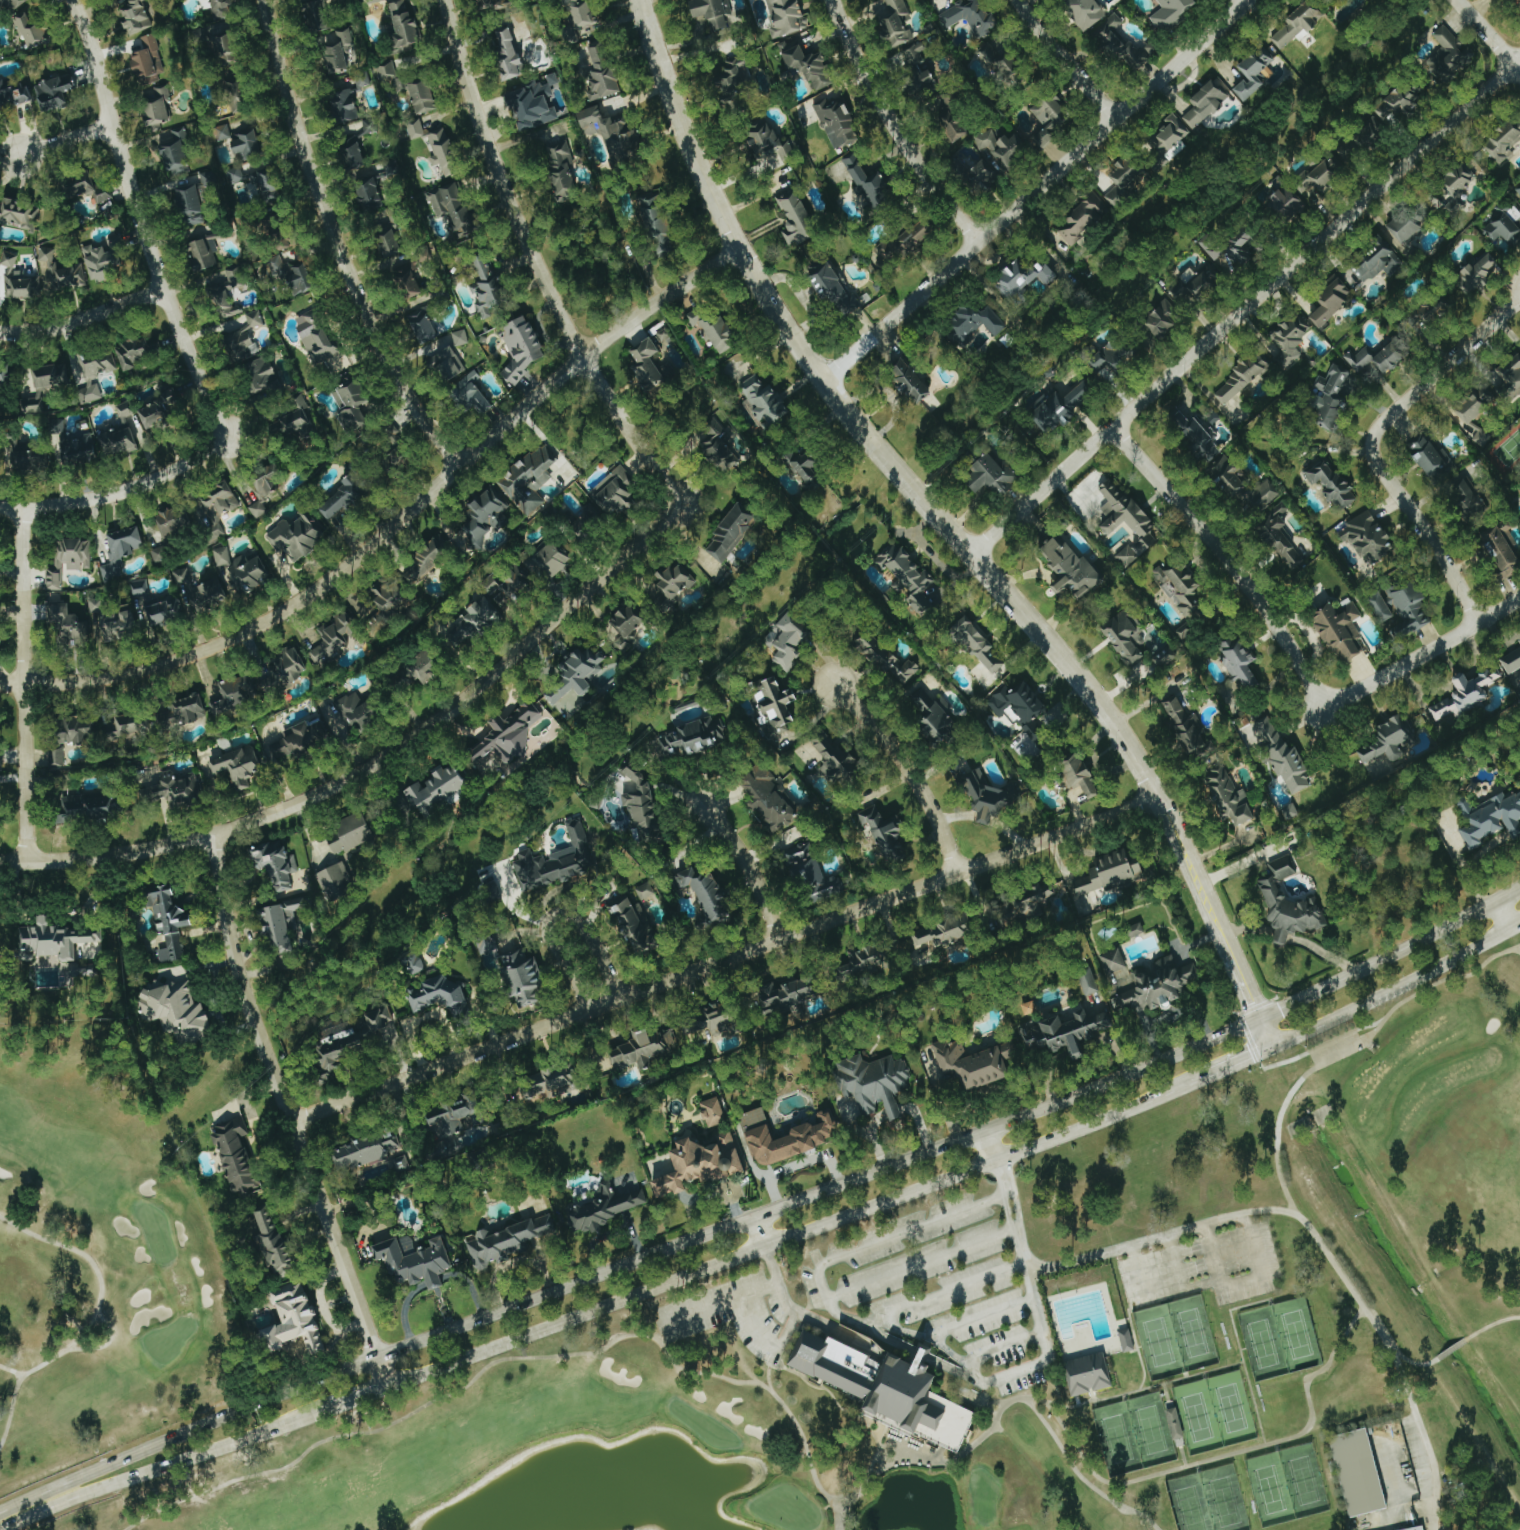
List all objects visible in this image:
road: (1240, 1)
building: (494, 3)
building: (1508, 3)
building: (218, 8)
building: (713, 12)
building: (1087, 12)
building: (582, 13)
building: (1173, 13)
building: (136, 16)
building: (318, 16)
building: (970, 16)
building: (786, 17)
building: (404, 23)
building: (895, 23)
building: (1297, 25)
road: (1492, 31)
building: (32, 33)
building: (1121, 43)
building: (790, 45)
building: (219, 48)
building: (340, 51)
building: (509, 53)
building: (1447, 55)
road: (1073, 56)
building: (149, 61)
building: (1002, 62)
building: (918, 69)
building: (603, 71)
building: (1256, 73)
building: (388, 77)
building: (733, 79)
building: (55, 92)
building: (236, 94)
building: (13, 96)
building: (423, 97)
building: (1208, 102)
building: (1400, 102)
building: (157, 104)
building: (534, 104)
building: (345, 106)
building: (837, 118)
building: (1049, 121)
building: (953, 123)
road: (900, 124)
building: (416, 129)
building: (224, 132)
building: (613, 133)
building: (1172, 137)
building: (1370, 137)
building: (1505, 140)
road: (64, 142)
building: (247, 143)
building: (771, 150)
building: (176, 152)
building: (443, 152)
building: (354, 153)
building: (996, 157)
building: (562, 170)
building: (236, 175)
building: (207, 178)
building: (1459, 179)
building: (869, 180)
building: (1126, 182)
building: (1518, 187)
road: (1033, 189)
building: (89, 192)
building: (371, 196)
building: (1285, 197)
building: (190, 203)
building: (454, 209)
building: (18, 214)
building: (796, 217)
road: (139, 223)
building: (1079, 223)
building: (658, 225)
building: (1406, 226)
building: (1502, 226)
building: (392, 241)
road: (334, 245)
building: (1232, 246)
building: (206, 256)
building: (104, 259)
building: (1375, 261)
road: (536, 265)
building: (60, 272)
building: (1479, 272)
building: (297, 276)
building: (1023, 277)
building: (18, 280)
building: (1195, 282)
building: (409, 284)
building: (488, 287)
building: (834, 288)
building: (228, 292)
building: (1332, 302)
road: (1246, 309)
building: (1163, 318)
road: (82, 320)
building: (975, 321)
building: (425, 325)
building: (715, 329)
building: (245, 337)
building: (461, 337)
building: (321, 339)
building: (1292, 341)
building: (522, 346)
building: (133, 351)
building: (1113, 357)
building: (1376, 360)
building: (450, 363)
building: (648, 363)
building: (5, 372)
building: (261, 373)
building: (95, 374)
building: (51, 375)
building: (1241, 378)
building: (909, 379)
building: (1509, 379)
building: (472, 393)
building: (1080, 393)
building: (1333, 396)
building: (765, 400)
building: (352, 402)
building: (33, 404)
building: (126, 410)
building: (157, 412)
building: (1054, 412)
building: (1215, 417)
building: (1474, 417)
building: (297, 421)
building: (393, 435)
building: (120, 442)
building: (73, 443)
road: (1370, 444)
building: (718, 445)
building: (1213, 453)
building: (1431, 457)
building: (31, 459)
building: (397, 459)
building: (804, 464)
building: (993, 476)
building: (269, 477)
building: (529, 479)
building: (1330, 480)
road: (118, 491)
building: (616, 491)
building: (1262, 495)
building: (1471, 497)
building: (344, 498)
building: (218, 506)
building: (258, 509)
building: (483, 518)
building: (587, 519)
building: (173, 520)
building: (1128, 522)
road: (396, 523)
road: (948, 526)
building: (731, 533)
building: (296, 535)
building: (1368, 535)
building: (1282, 537)
building: (1501, 548)
building: (121, 551)
building: (161, 553)
building: (223, 555)
building: (430, 557)
road: (1226, 559)
building: (68, 560)
building: (551, 560)
building: (1072, 568)
building: (1511, 570)
building: (250, 574)
building: (183, 576)
building: (913, 578)
building: (676, 580)
building: (140, 587)
building: (507, 587)
building: (1183, 590)
building: (208, 594)
building: (390, 598)
building: (1383, 606)
building: (1408, 609)
building: (165, 612)
building: (628, 620)
building: (67, 621)
building: (114, 621)
building: (474, 621)
building: (1341, 630)
building: (775, 635)
building: (1127, 635)
building: (335, 637)
building: (791, 640)
building: (0, 642)
building: (978, 643)
road: (1423, 654)
building: (1165, 658)
building: (890, 659)
building: (1512, 661)
building: (1240, 662)
building: (424, 667)
building: (282, 670)
building: (577, 675)
road: (23, 686)
building: (235, 694)
building: (1465, 695)
building: (190, 709)
building: (779, 709)
building: (353, 712)
building: (934, 715)
building: (1023, 717)
building: (126, 726)
building: (1187, 726)
building: (76, 729)
building: (507, 735)
building: (693, 738)
building: (299, 740)
building: (1387, 747)
building: (1285, 755)
building: (57, 756)
road: (380, 761)
building: (839, 762)
building: (238, 766)
road: (907, 771)
building: (1081, 775)
building: (436, 789)
building: (1230, 796)
building: (769, 800)
building: (988, 800)
building: (643, 804)
building: (89, 806)
building: (1291, 811)
building: (1492, 818)
building: (886, 829)
building: (350, 834)
road: (1474, 858)
building: (557, 860)
building: (278, 864)
road: (745, 865)
building: (1110, 873)
building: (814, 875)
building: (336, 881)
building: (707, 892)
building: (647, 893)
building: (1040, 898)
building: (1289, 903)
road: (1504, 914)
building: (170, 922)
building: (284, 924)
building: (634, 926)
building: (1138, 929)
building: (943, 934)
building: (53, 940)
road: (1518, 948)
road: (600, 951)
road: (560, 953)
road: (725, 959)
building: (1113, 960)
building: (865, 962)
building: (413, 964)
building: (525, 978)
building: (1091, 984)
building: (1160, 984)
road: (1397, 986)
building: (791, 994)
building: (441, 996)
building: (176, 1011)
traffic signals: (1260, 1018)
building: (715, 1022)
building: (384, 1026)
building: (1071, 1032)
road: (1339, 1036)
traffic signals: (1273, 1046)
building: (644, 1049)
road: (1237, 1061)
building: (974, 1063)
building: (553, 1083)
building: (874, 1083)
building: (713, 1111)
road: (287, 1113)
building: (456, 1117)
building: (786, 1137)
road: (958, 1142)
road: (995, 1145)
building: (367, 1151)
building: (237, 1155)
building: (702, 1164)
building: (607, 1207)
road: (797, 1234)
building: (274, 1241)
building: (509, 1242)
road: (1322, 1244)
building: (408, 1246)
building: (417, 1262)
road: (923, 1262)
road: (772, 1267)
road: (823, 1268)
road: (1159, 1290)
road: (948, 1292)
road: (983, 1317)
road: (1044, 1320)
building: (294, 1321)
road: (891, 1340)
building: (1127, 1340)
road: (1458, 1342)
road: (1005, 1346)
road: (924, 1356)
building: (1089, 1374)
building: (887, 1388)
road: (352, 1399)
road: (214, 1419)
building: (1176, 1424)
road: (186, 1459)
building: (1360, 1473)
road: (27, 1506)
building: (1419, 1528)

